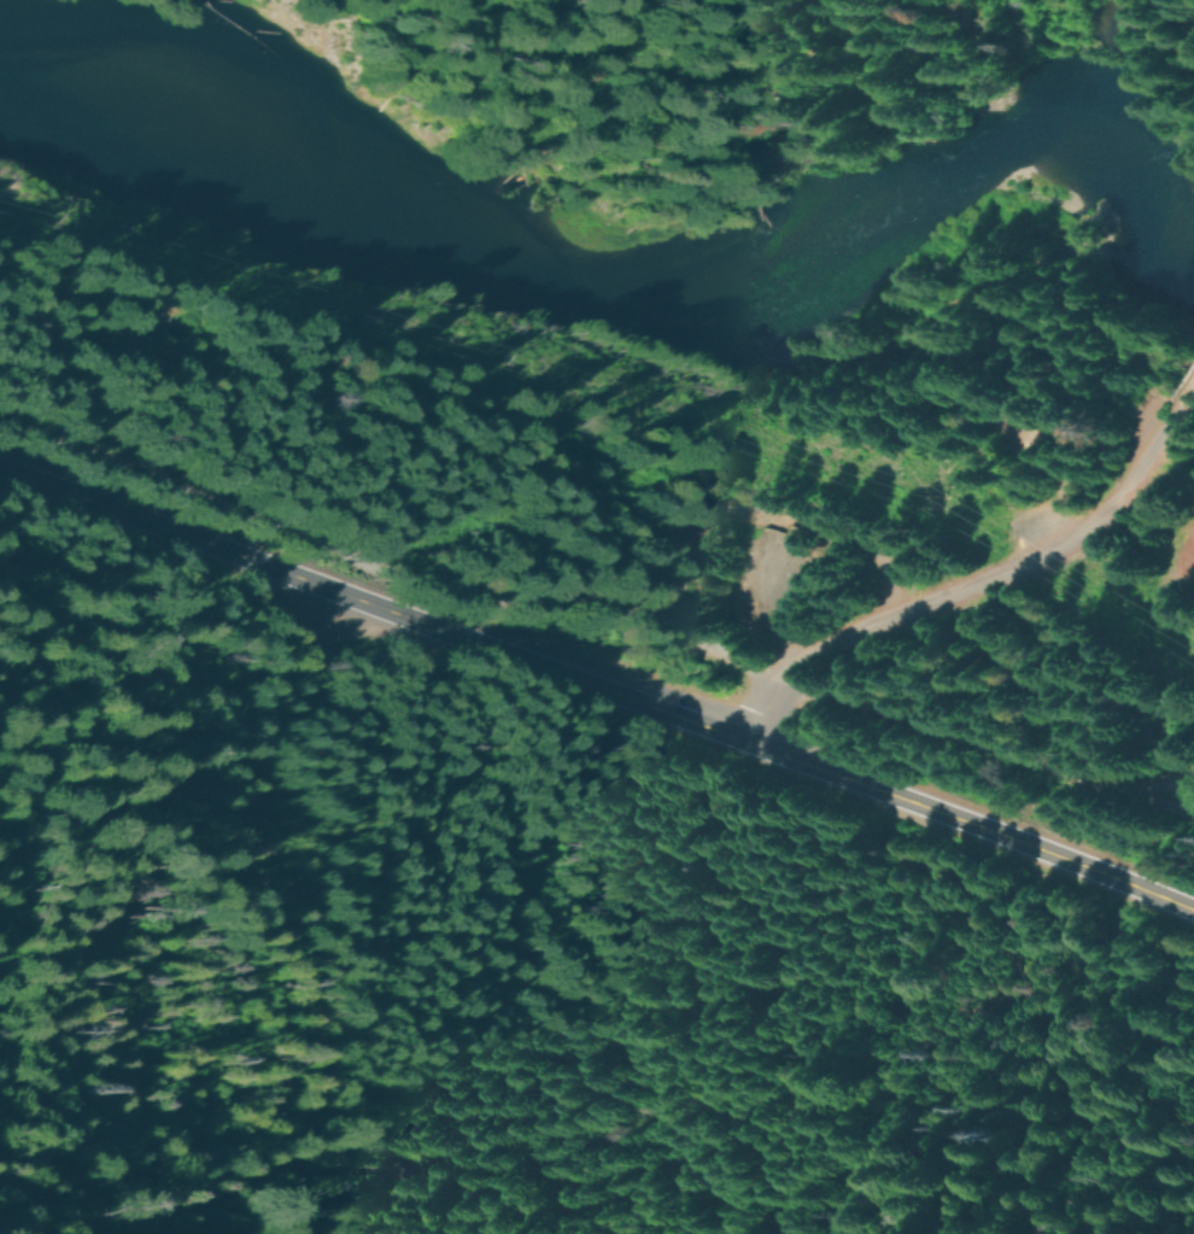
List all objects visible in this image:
river: (652, 298)
road: (1169, 469)
road: (1055, 483)
power tower: (919, 491)
road: (710, 517)
road: (387, 544)
road: (988, 580)
road: (767, 591)
road: (597, 685)
road: (985, 750)
road: (1159, 789)

